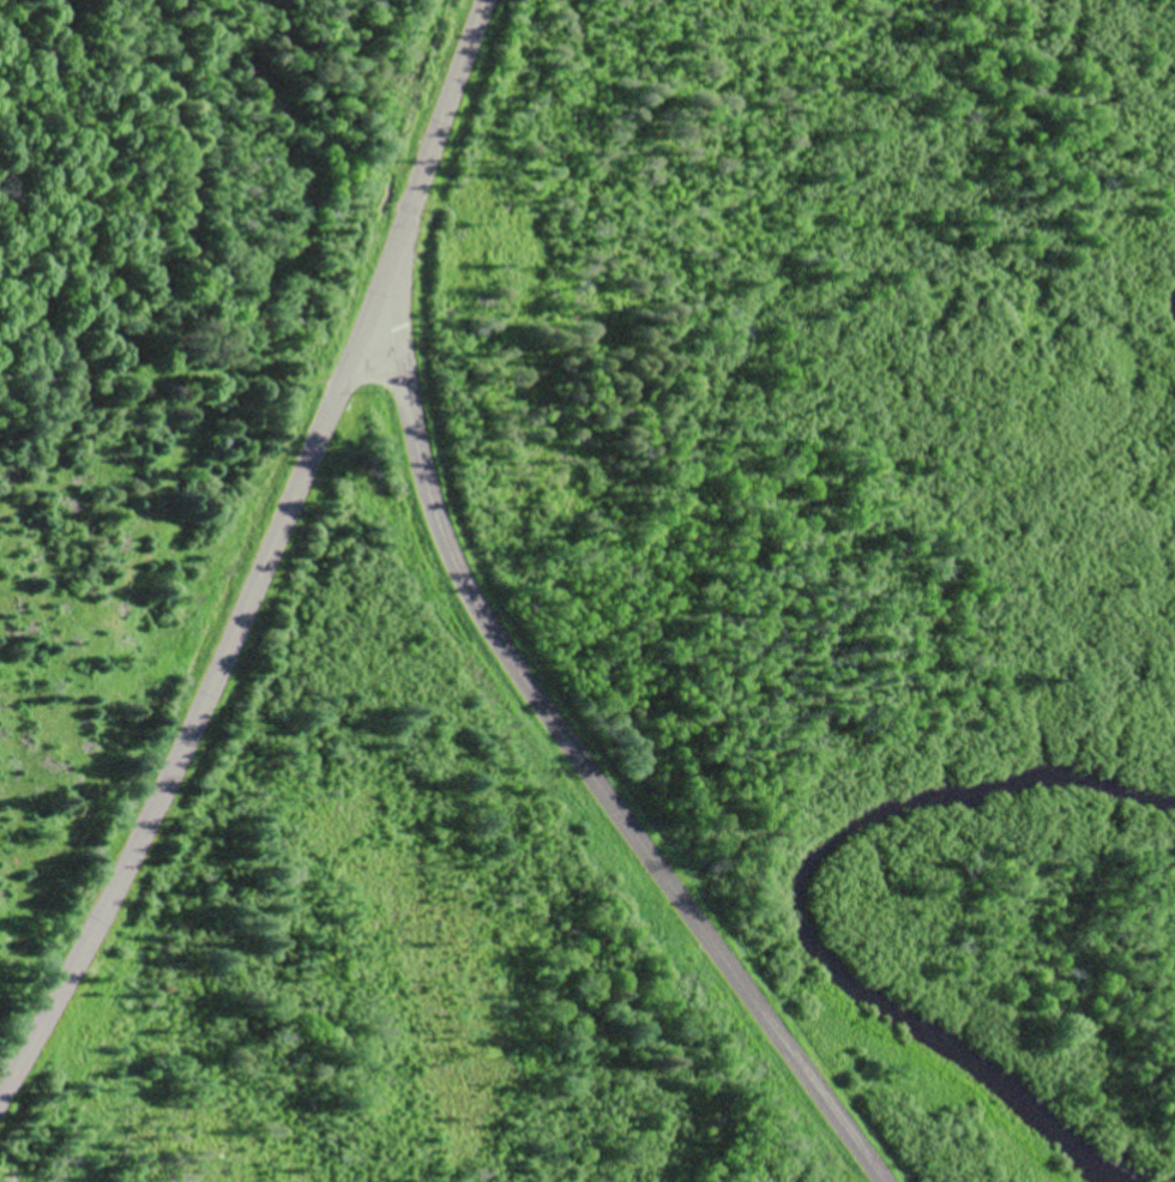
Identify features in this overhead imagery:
road: (270, 563)
road: (593, 764)

